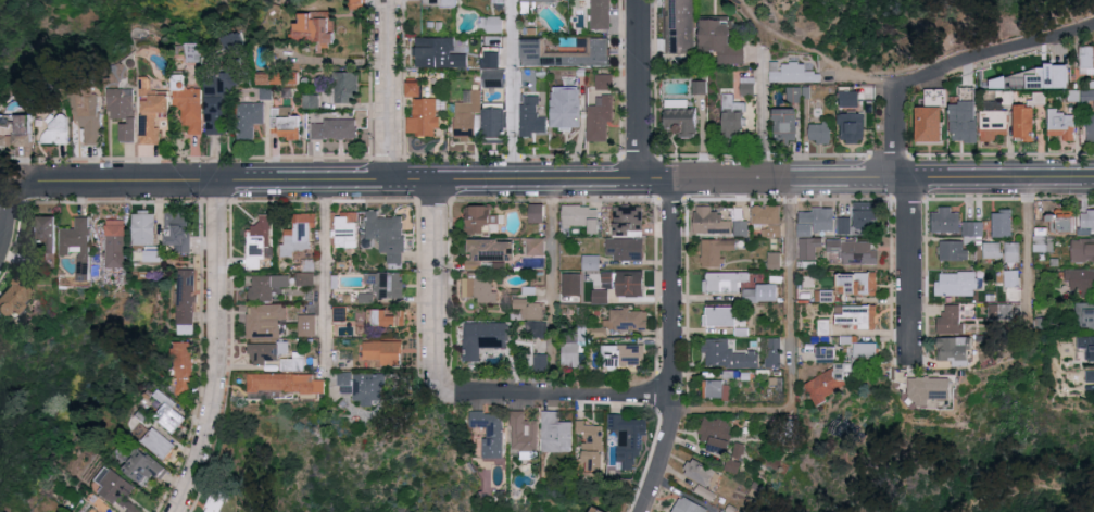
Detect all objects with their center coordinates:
building: (540, 1)
building: (357, 3)
building: (440, 3)
road: (749, 3)
road: (752, 3)
building: (600, 14)
building: (491, 24)
building: (314, 27)
building: (679, 27)
road: (963, 32)
road: (758, 34)
building: (720, 41)
building: (234, 43)
road: (992, 49)
building: (492, 51)
building: (442, 52)
building: (564, 53)
road: (819, 58)
building: (1086, 60)
building: (1043, 72)
building: (791, 73)
building: (271, 78)
building: (493, 78)
building: (605, 80)
building: (749, 85)
building: (701, 86)
building: (345, 87)
road: (513, 91)
road: (640, 91)
building: (266, 92)
road: (389, 92)
building: (800, 92)
building: (1089, 93)
building: (313, 99)
building: (850, 99)
building: (188, 104)
building: (216, 107)
building: (566, 108)
building: (123, 111)
building: (87, 112)
building: (151, 112)
building: (423, 113)
road: (762, 114)
building: (732, 116)
building: (249, 118)
building: (477, 118)
building: (600, 120)
building: (680, 121)
building: (531, 122)
building: (963, 122)
building: (1023, 122)
building: (992, 123)
building: (286, 124)
building: (929, 124)
building: (784, 125)
building: (1060, 125)
building: (851, 127)
building: (1090, 127)
building: (58, 128)
building: (334, 128)
building: (17, 130)
building: (819, 132)
road: (897, 136)
road: (769, 182)
road: (996, 183)
road: (106, 185)
road: (429, 185)
building: (536, 213)
building: (766, 215)
building: (579, 217)
building: (481, 218)
building: (944, 220)
building: (1086, 220)
building: (864, 221)
building: (1061, 221)
building: (819, 222)
building: (716, 223)
building: (1002, 224)
road: (5, 225)
building: (843, 225)
building: (143, 227)
building: (344, 229)
building: (972, 229)
building: (178, 230)
building: (45, 234)
building: (300, 235)
building: (387, 235)
building: (626, 235)
building: (75, 237)
building: (259, 241)
building: (1042, 241)
building: (115, 243)
building: (536, 247)
road: (1026, 247)
building: (991, 250)
building: (1082, 250)
building: (808, 251)
building: (855, 251)
building: (953, 251)
building: (714, 252)
building: (1011, 252)
building: (158, 253)
building: (490, 253)
building: (774, 261)
building: (590, 262)
road: (910, 266)
building: (566, 276)
road: (328, 277)
building: (1010, 278)
building: (1081, 280)
building: (724, 282)
building: (388, 284)
building: (856, 284)
building: (956, 284)
building: (267, 286)
building: (619, 286)
road: (435, 288)
road: (554, 289)
building: (478, 290)
building: (762, 294)
building: (823, 296)
building: (12, 298)
building: (188, 302)
building: (530, 309)
building: (999, 312)
building: (340, 314)
building: (720, 316)
building: (855, 316)
building: (1085, 316)
building: (387, 319)
building: (627, 319)
building: (951, 320)
building: (265, 322)
building: (825, 325)
building: (307, 326)
building: (539, 329)
building: (848, 338)
building: (483, 339)
building: (1086, 345)
road: (674, 349)
building: (865, 349)
road: (219, 351)
building: (954, 351)
building: (774, 352)
building: (381, 353)
building: (569, 353)
road: (791, 353)
building: (826, 353)
building: (274, 355)
building: (624, 355)
building: (727, 355)
building: (539, 362)
building: (184, 367)
building: (1090, 375)
building: (829, 383)
building: (286, 384)
building: (363, 387)
building: (716, 389)
building: (929, 389)
road: (555, 395)
building: (171, 412)
building: (490, 432)
building: (555, 433)
building: (524, 435)
building: (716, 435)
building: (629, 439)
building: (159, 444)
building: (591, 446)
building: (733, 464)
building: (143, 469)
building: (699, 472)
building: (114, 487)
building: (705, 490)
building: (217, 501)
building: (688, 505)
building: (96, 508)
building: (594, 510)
building: (722, 511)

